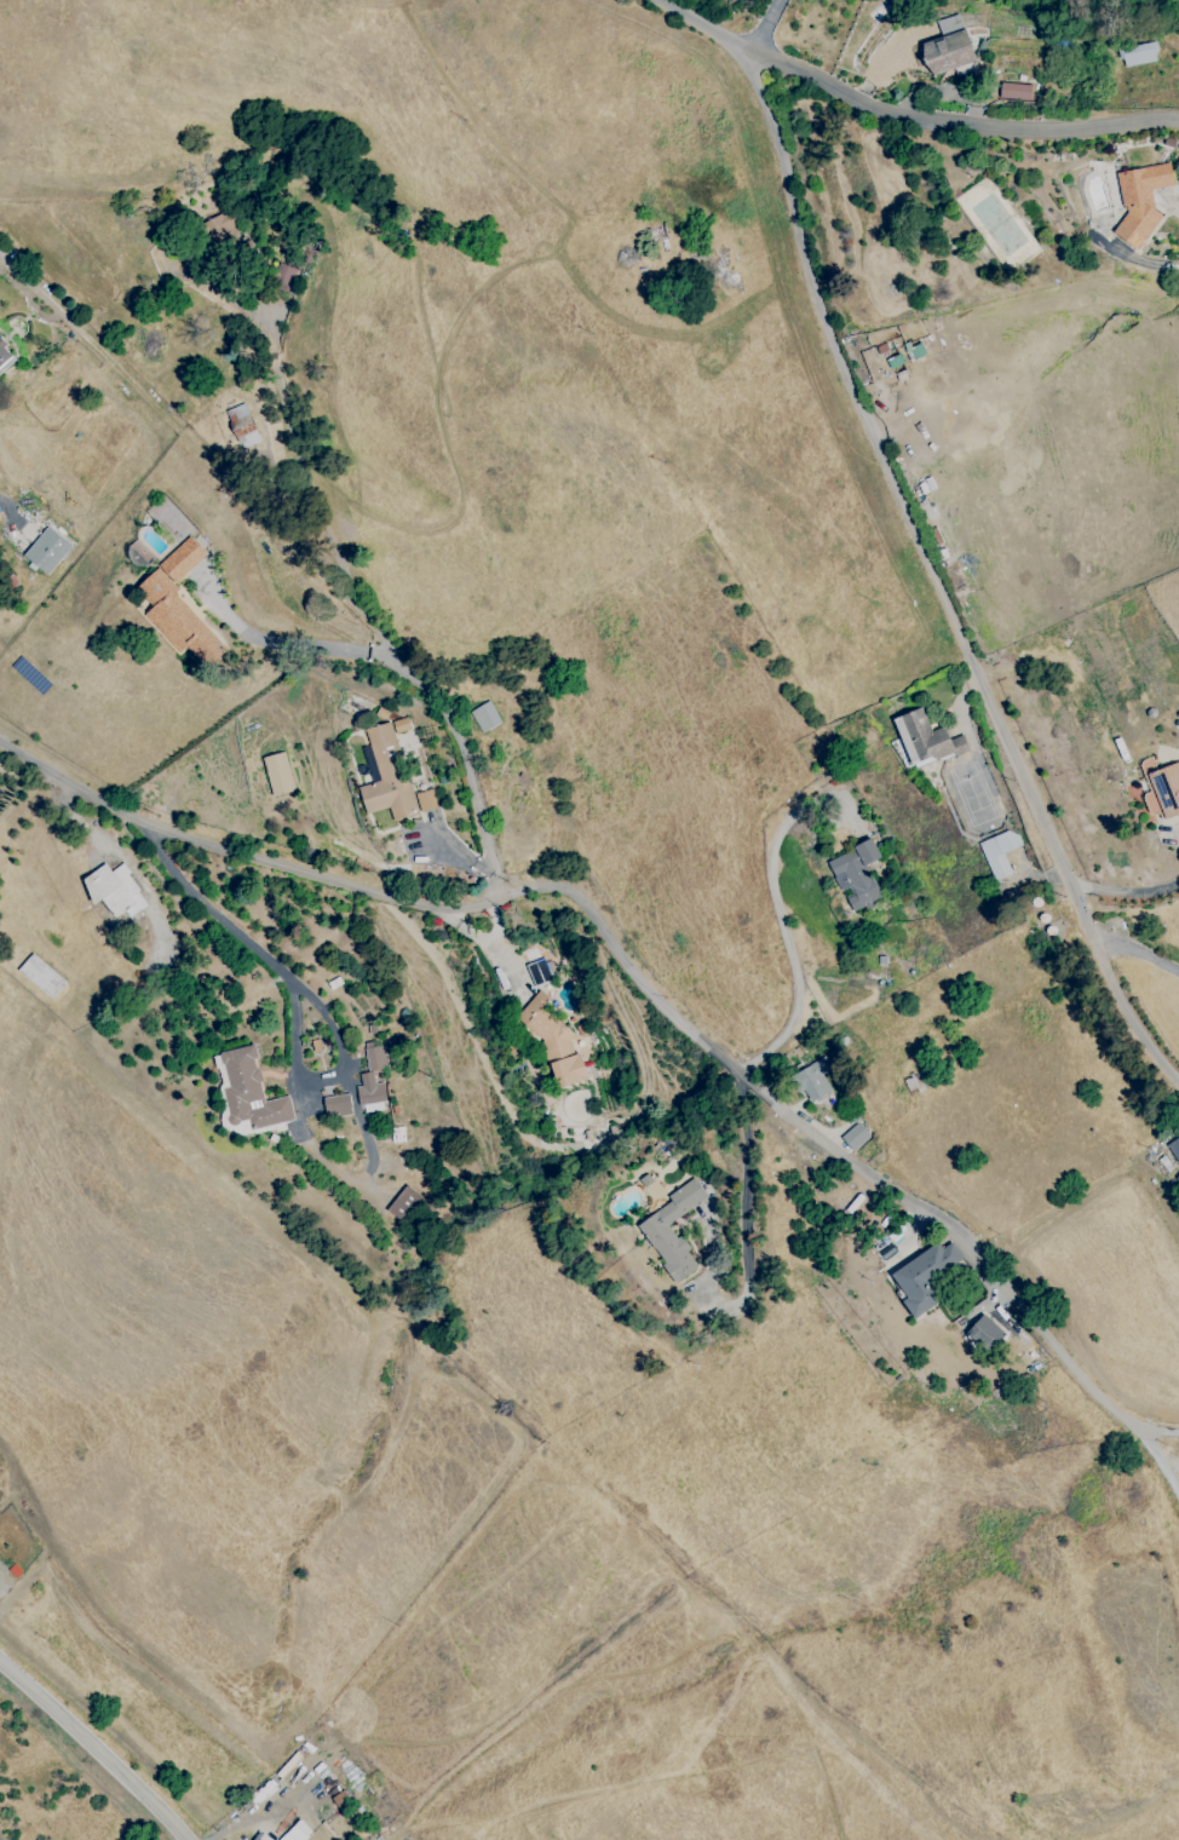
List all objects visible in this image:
road: (765, 25)
building: (948, 47)
building: (1138, 53)
building: (1014, 91)
road: (957, 128)
building: (1140, 200)
building: (222, 228)
building: (282, 276)
building: (242, 425)
road: (295, 467)
road: (916, 534)
building: (47, 550)
building: (179, 606)
road: (288, 644)
building: (484, 717)
road: (455, 736)
building: (924, 738)
building: (386, 771)
building: (277, 774)
building: (1163, 792)
building: (426, 800)
building: (999, 852)
road: (240, 853)
building: (856, 874)
building: (114, 890)
road: (1126, 891)
road: (788, 944)
road: (1138, 951)
building: (537, 972)
road: (248, 1001)
road: (326, 1010)
building: (553, 1041)
building: (373, 1074)
building: (811, 1080)
building: (337, 1105)
building: (855, 1135)
building: (1174, 1149)
road: (852, 1165)
building: (1177, 1179)
building: (408, 1204)
road: (748, 1219)
building: (672, 1230)
building: (924, 1276)
building: (985, 1333)
road: (1157, 1432)
road: (93, 1750)
road: (167, 1772)
road: (251, 1819)
building: (297, 1830)
building: (260, 1836)

